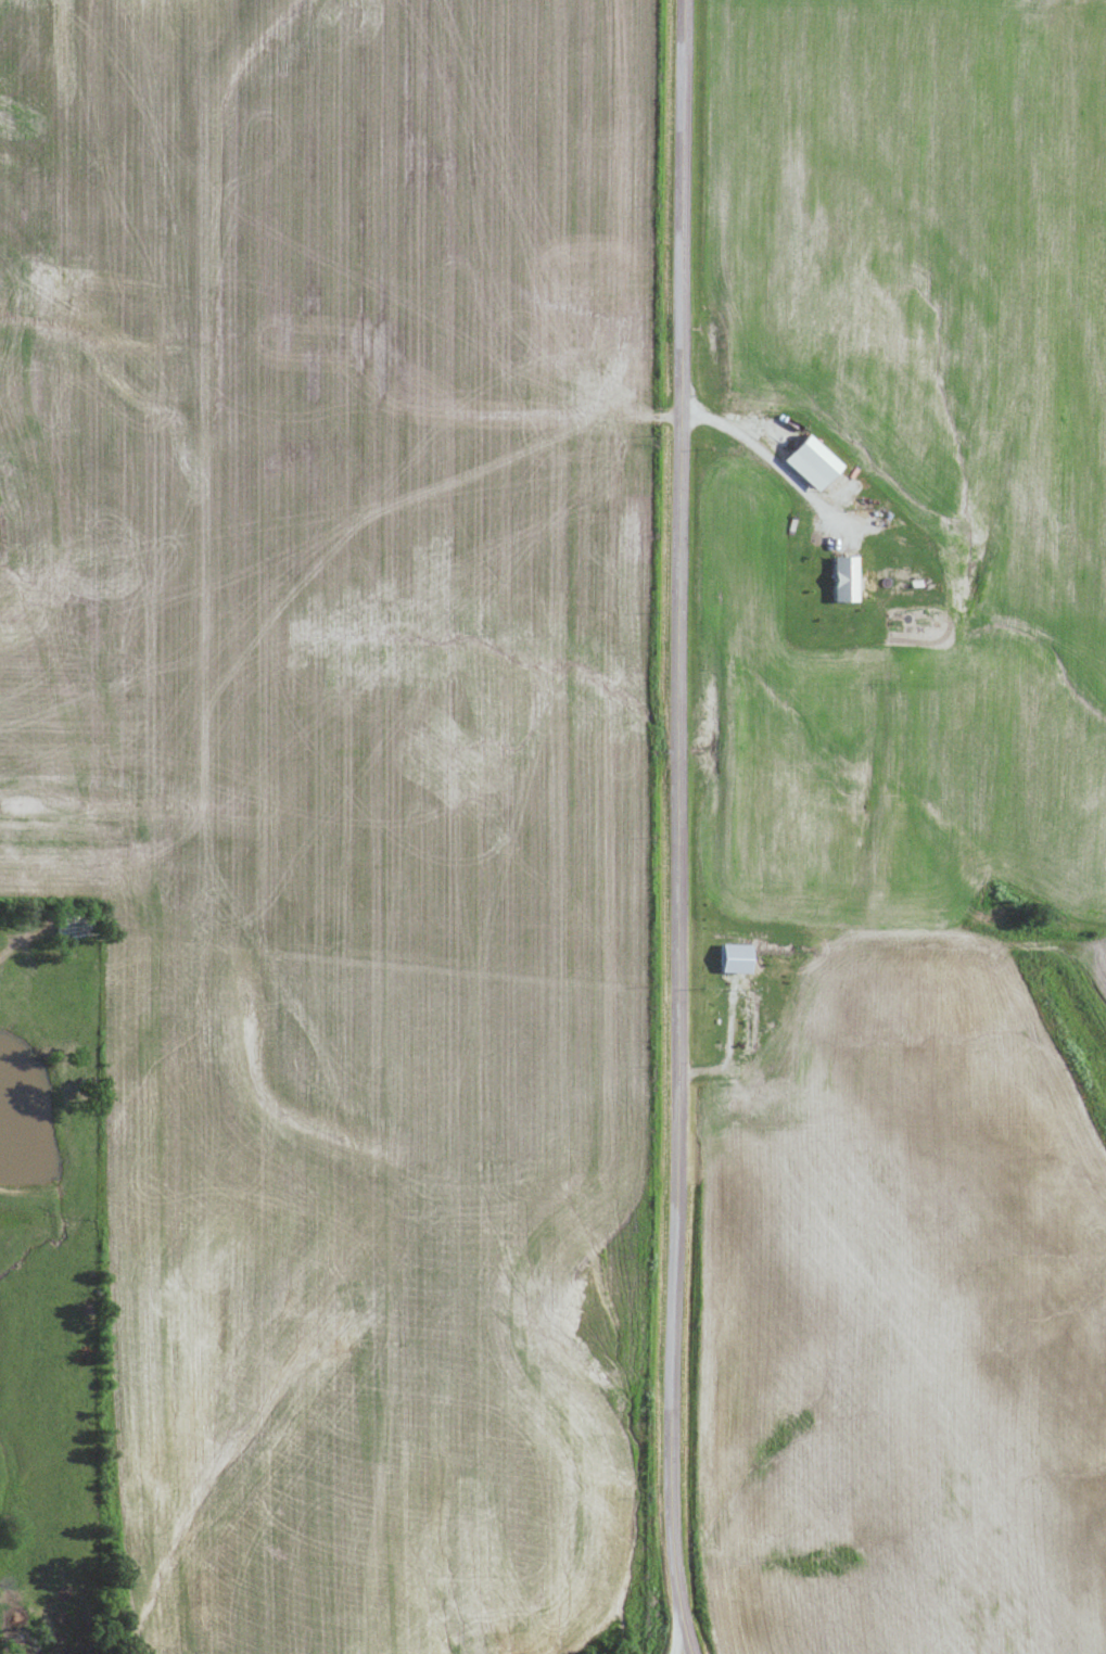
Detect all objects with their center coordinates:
road: (665, 832)
road: (656, 1587)

